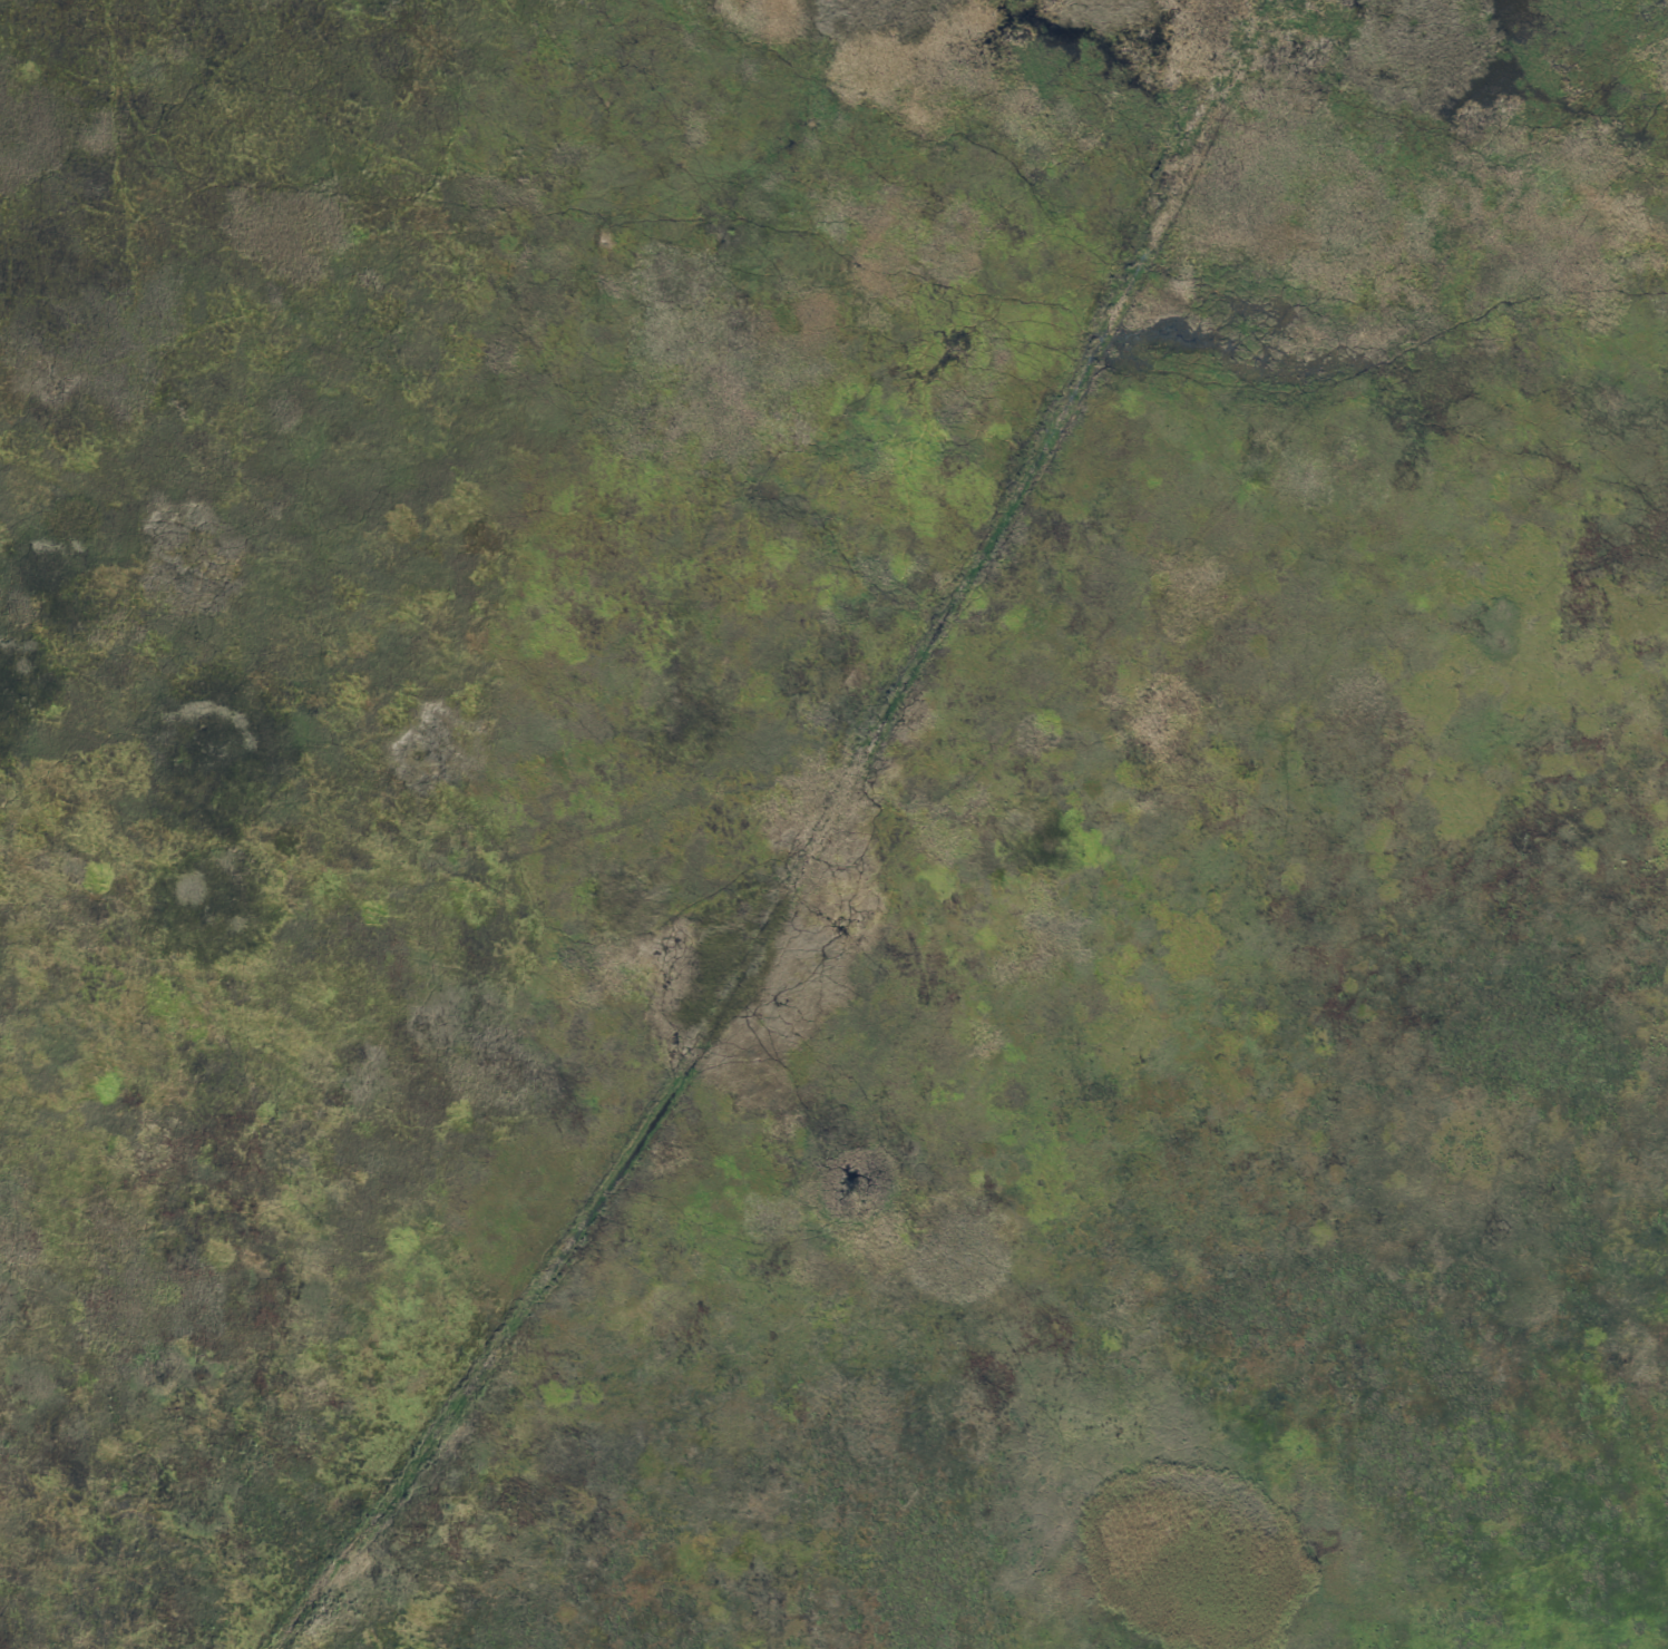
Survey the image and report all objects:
park: (1542, 1611)

